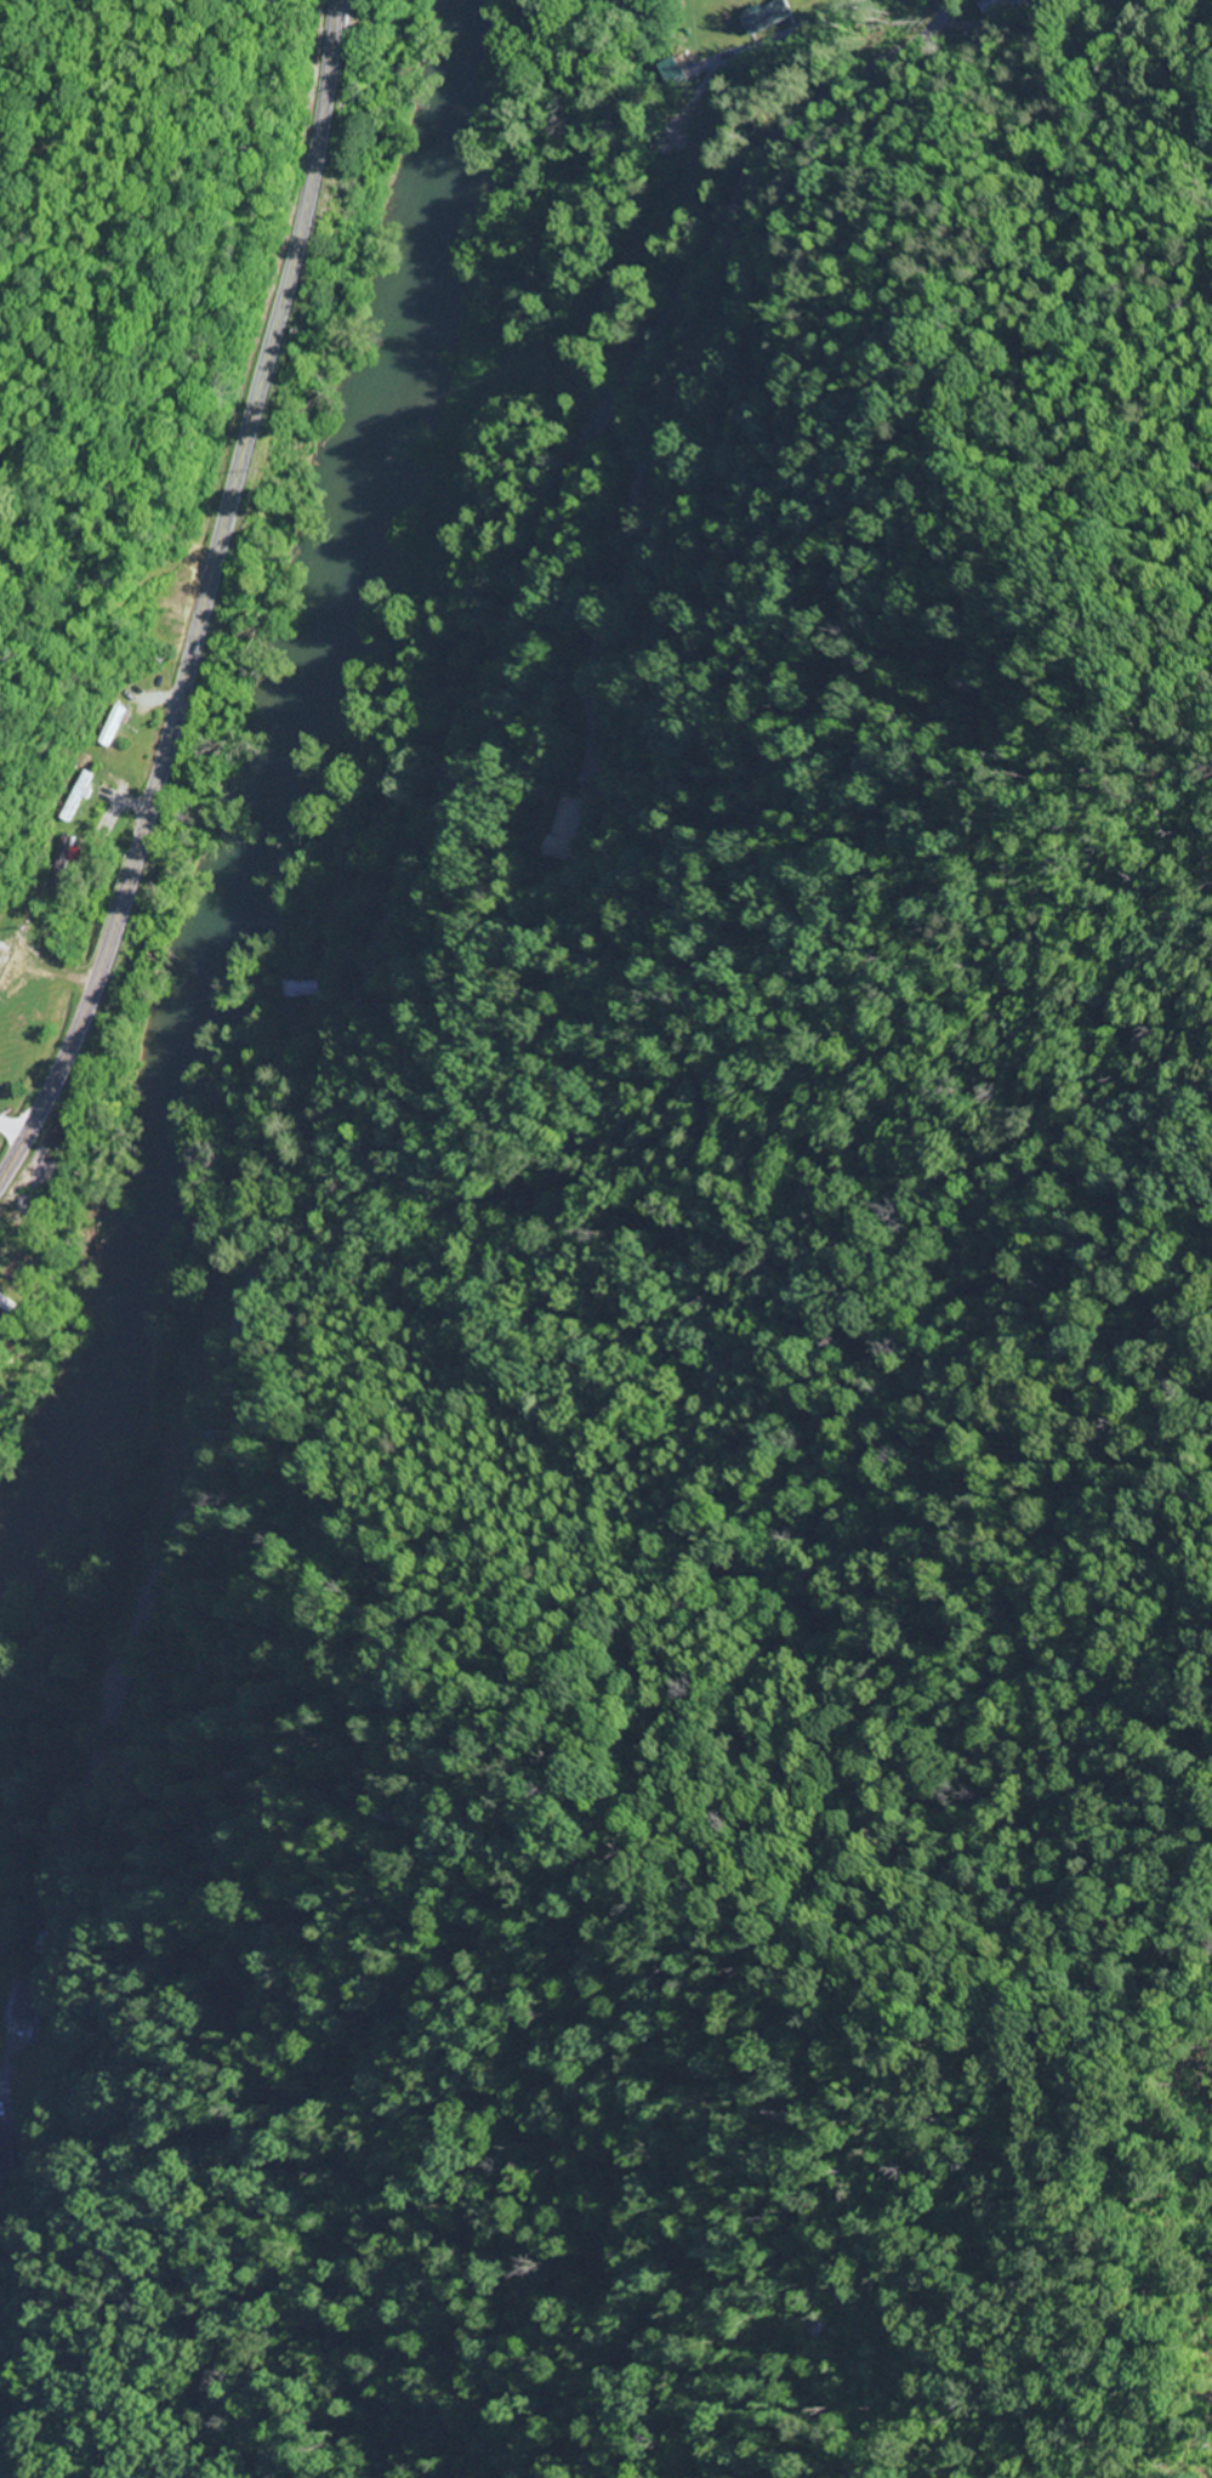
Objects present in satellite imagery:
building: (1000, 6)
building: (763, 22)
building: (667, 72)
road: (831, 92)
road: (203, 599)
building: (107, 727)
river: (267, 786)
building: (571, 828)
building: (306, 990)
road: (326, 1064)
building: (5, 1306)
building: (15, 2004)
building: (5, 2153)
road: (1, 2473)

